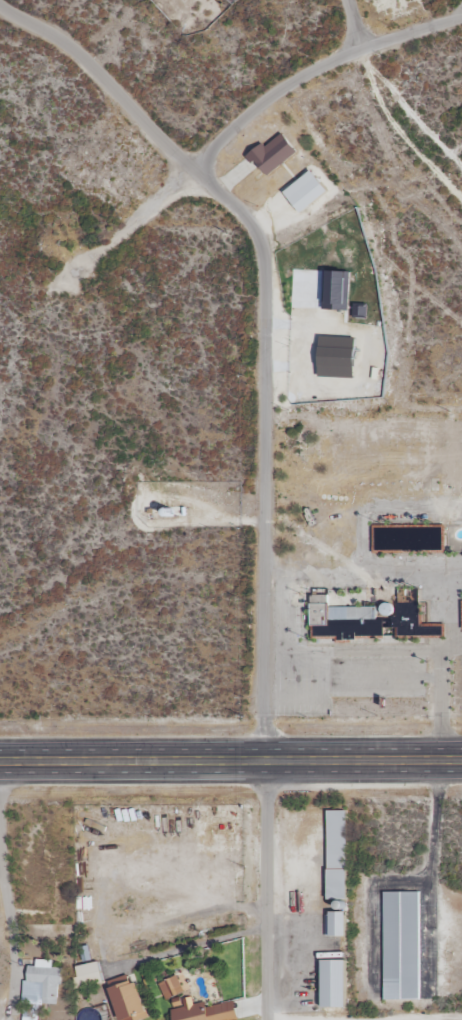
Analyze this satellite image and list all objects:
building: (182, 0)
road: (357, 24)
road: (243, 122)
building: (274, 153)
road: (268, 321)
building: (408, 539)
road: (310, 572)
building: (342, 619)
building: (414, 623)
road: (357, 654)
road: (230, 760)
building: (337, 854)
road: (267, 889)
road: (10, 918)
building: (401, 945)
road: (189, 949)
building: (89, 975)
building: (42, 983)
building: (128, 999)
building: (199, 1012)
road: (413, 1018)

